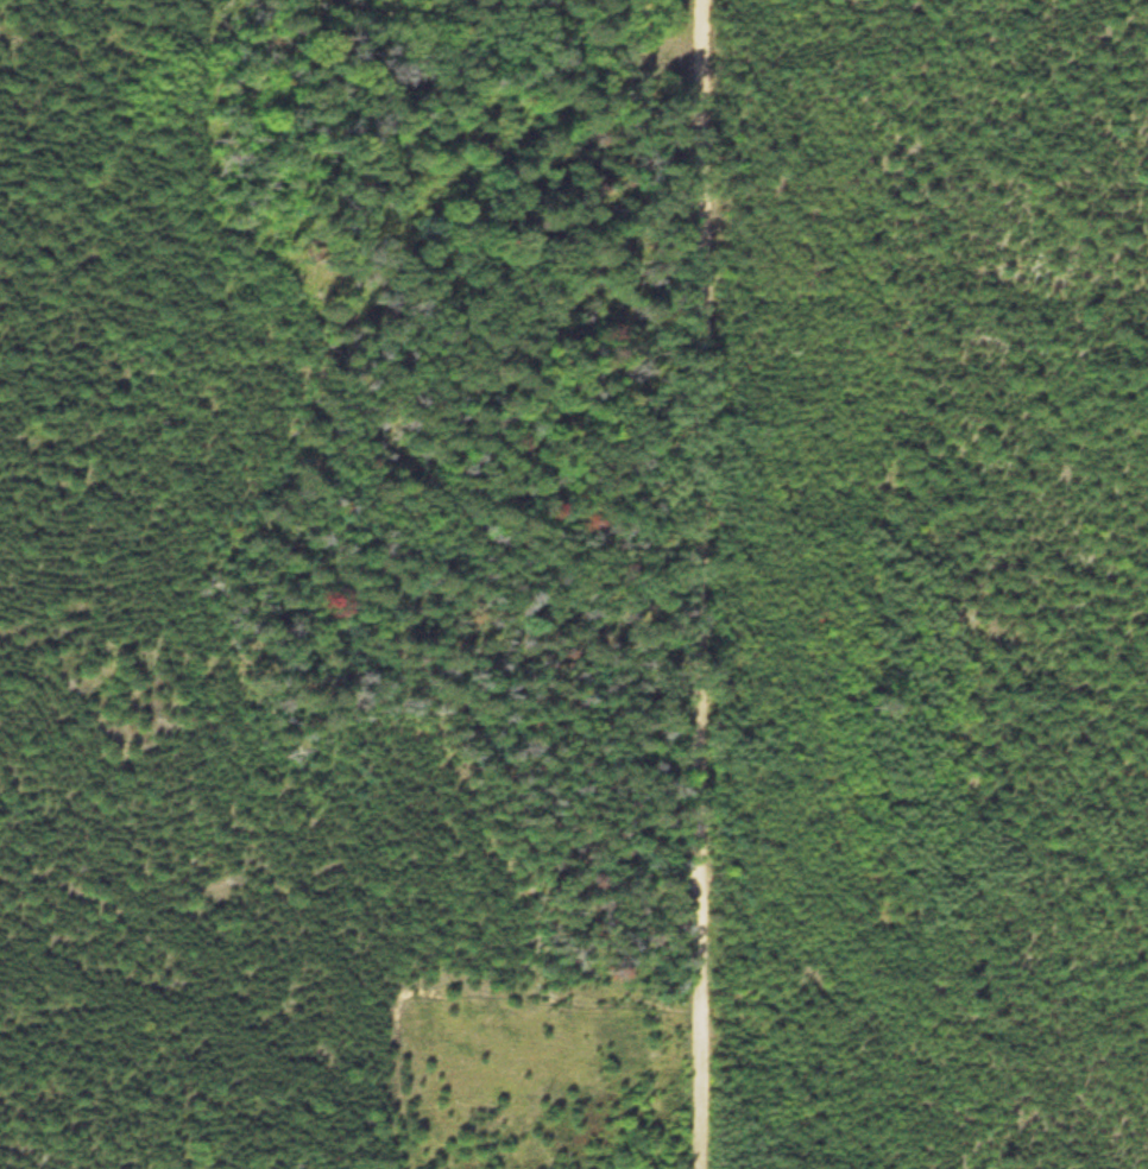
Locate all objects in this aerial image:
road: (706, 584)

